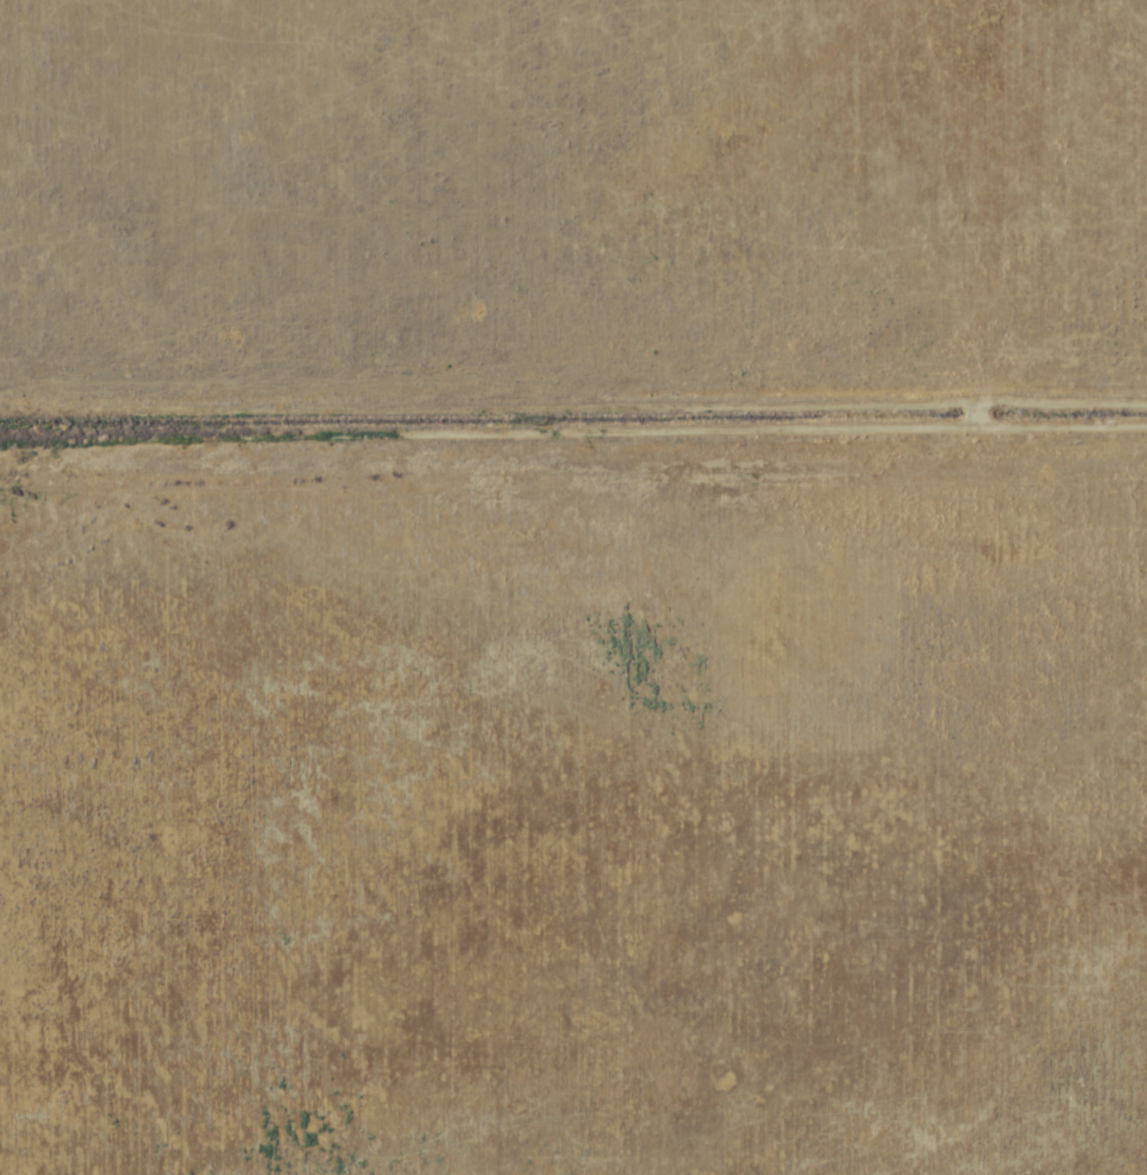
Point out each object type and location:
road: (648, 319)

